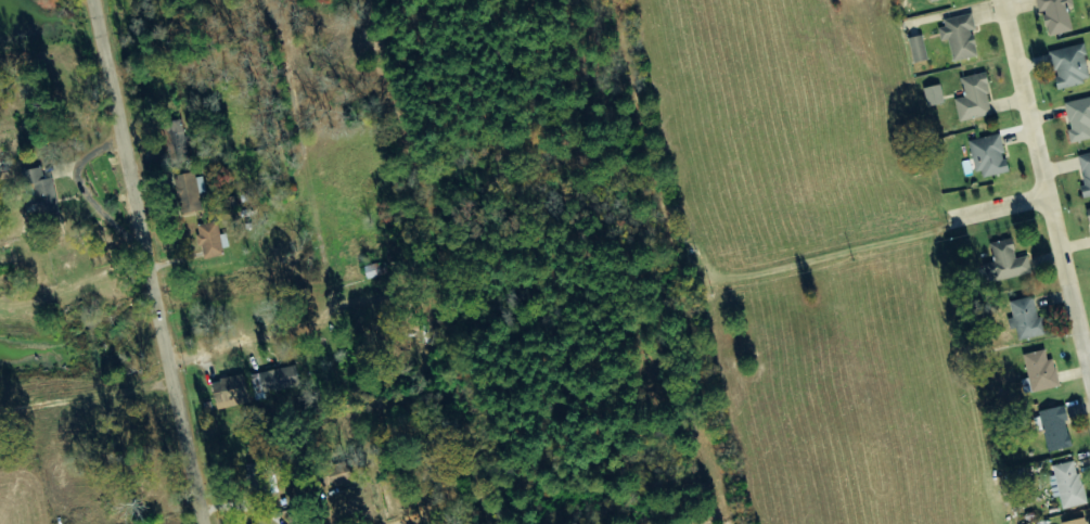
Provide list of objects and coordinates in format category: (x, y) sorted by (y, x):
building: (934, 1)
building: (1057, 16)
building: (962, 37)
building: (920, 50)
building: (1072, 66)
building: (936, 97)
building: (977, 99)
building: (1080, 120)
building: (991, 156)
building: (1086, 171)
building: (195, 183)
road: (1047, 183)
building: (214, 240)
road: (152, 260)
building: (1008, 263)
road: (252, 269)
building: (377, 271)
building: (1028, 319)
road: (1089, 361)
building: (1043, 372)
building: (279, 380)
building: (232, 392)
building: (1059, 430)
building: (261, 481)
building: (1068, 485)
building: (1078, 522)

